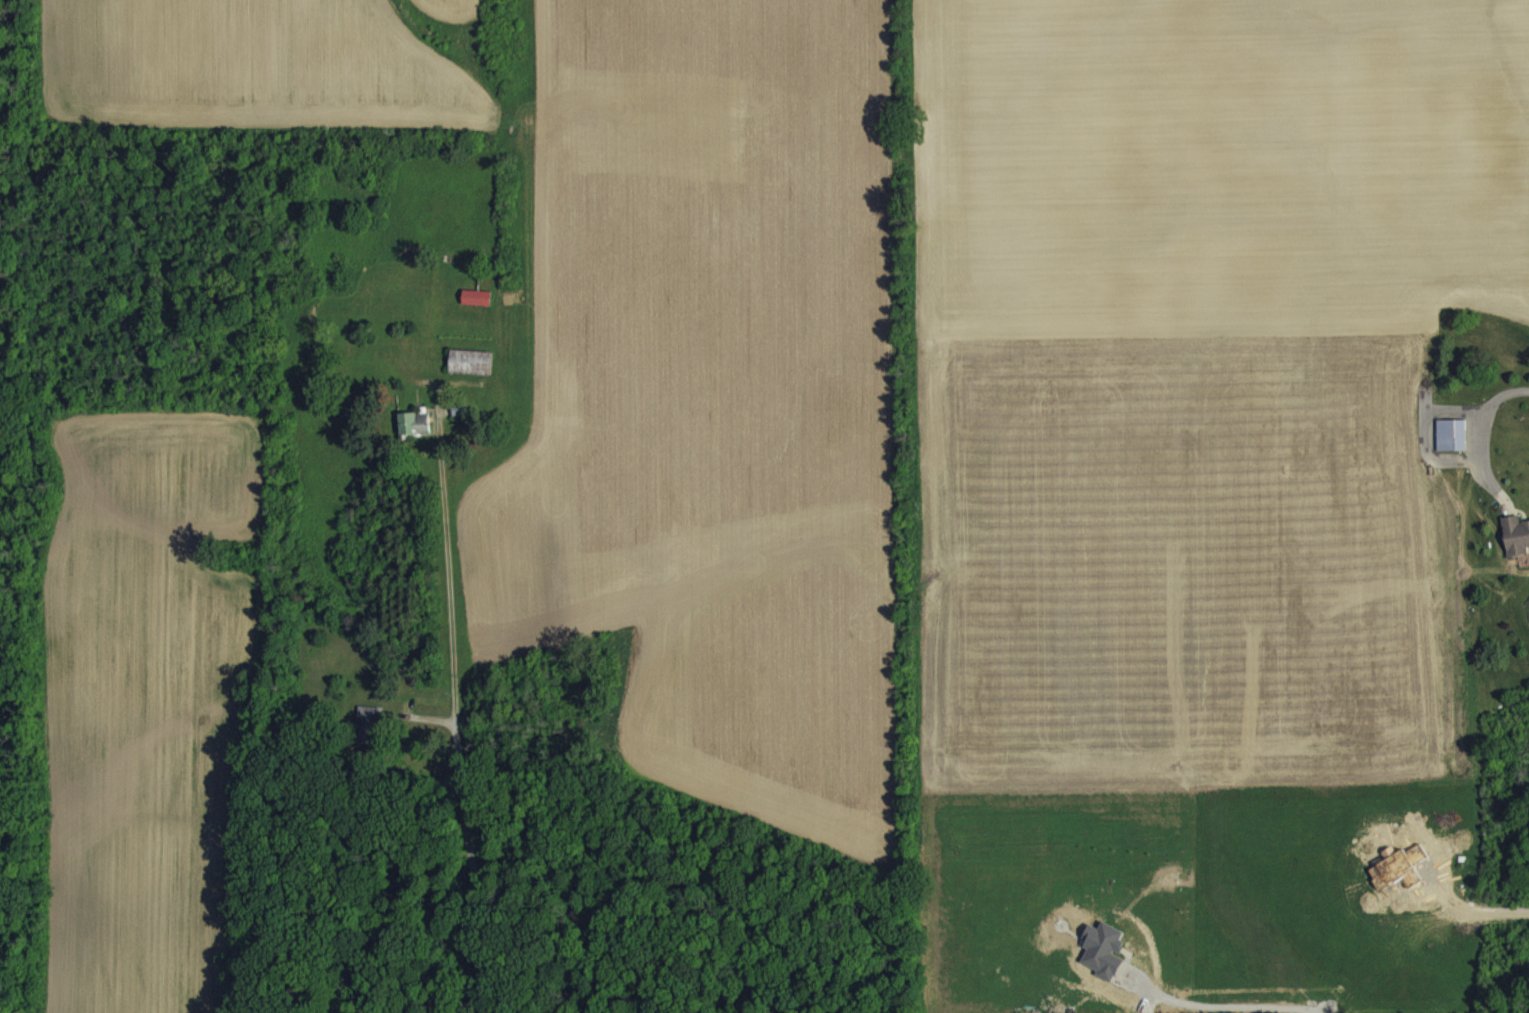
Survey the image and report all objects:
building: (477, 309)
road: (1483, 432)
building: (415, 435)
building: (1451, 447)
building: (1516, 548)
road: (458, 735)
building: (368, 738)
road: (1483, 911)
road: (1219, 1002)

